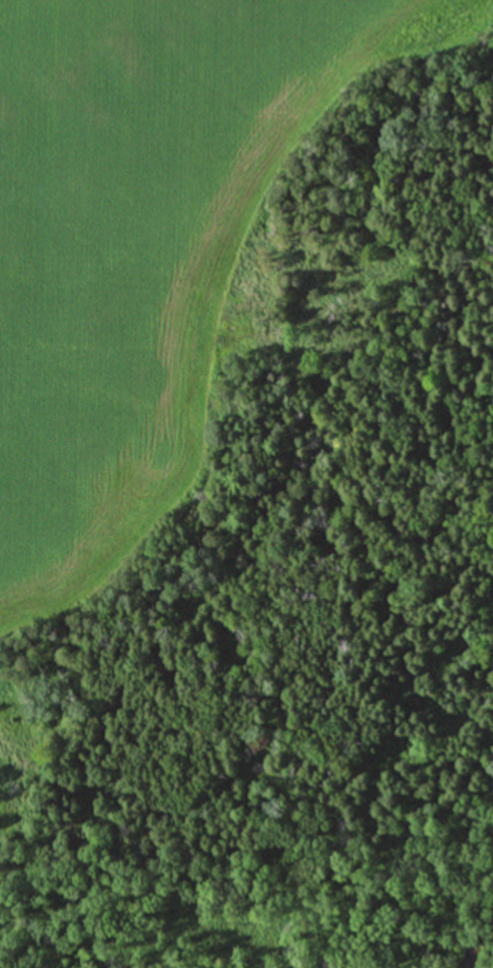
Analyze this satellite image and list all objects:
river: (467, 934)

